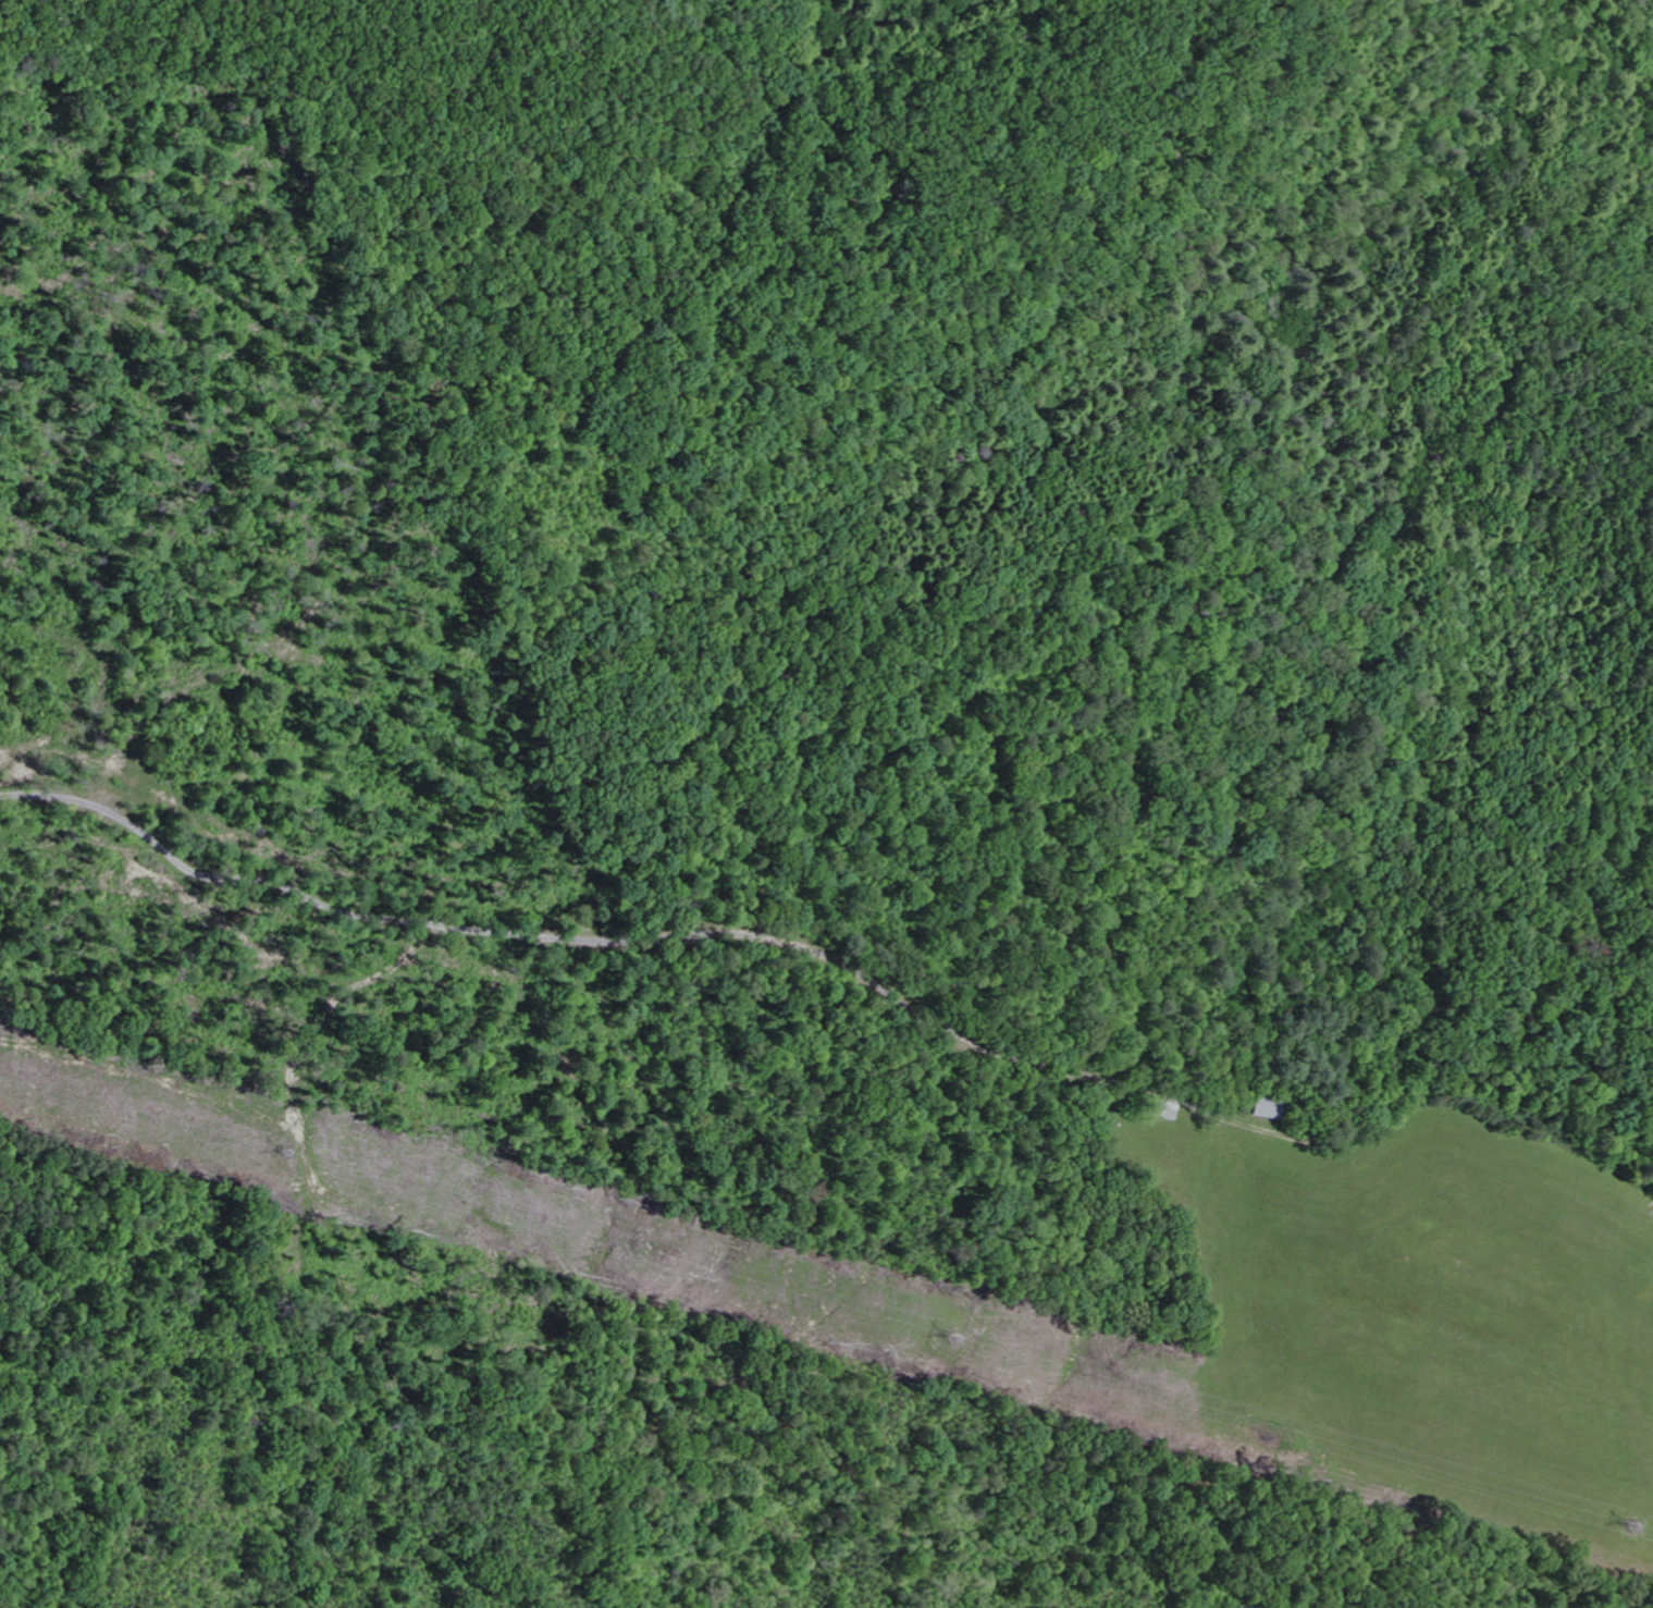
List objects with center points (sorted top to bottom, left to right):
road: (644, 936)
road: (1476, 1022)

